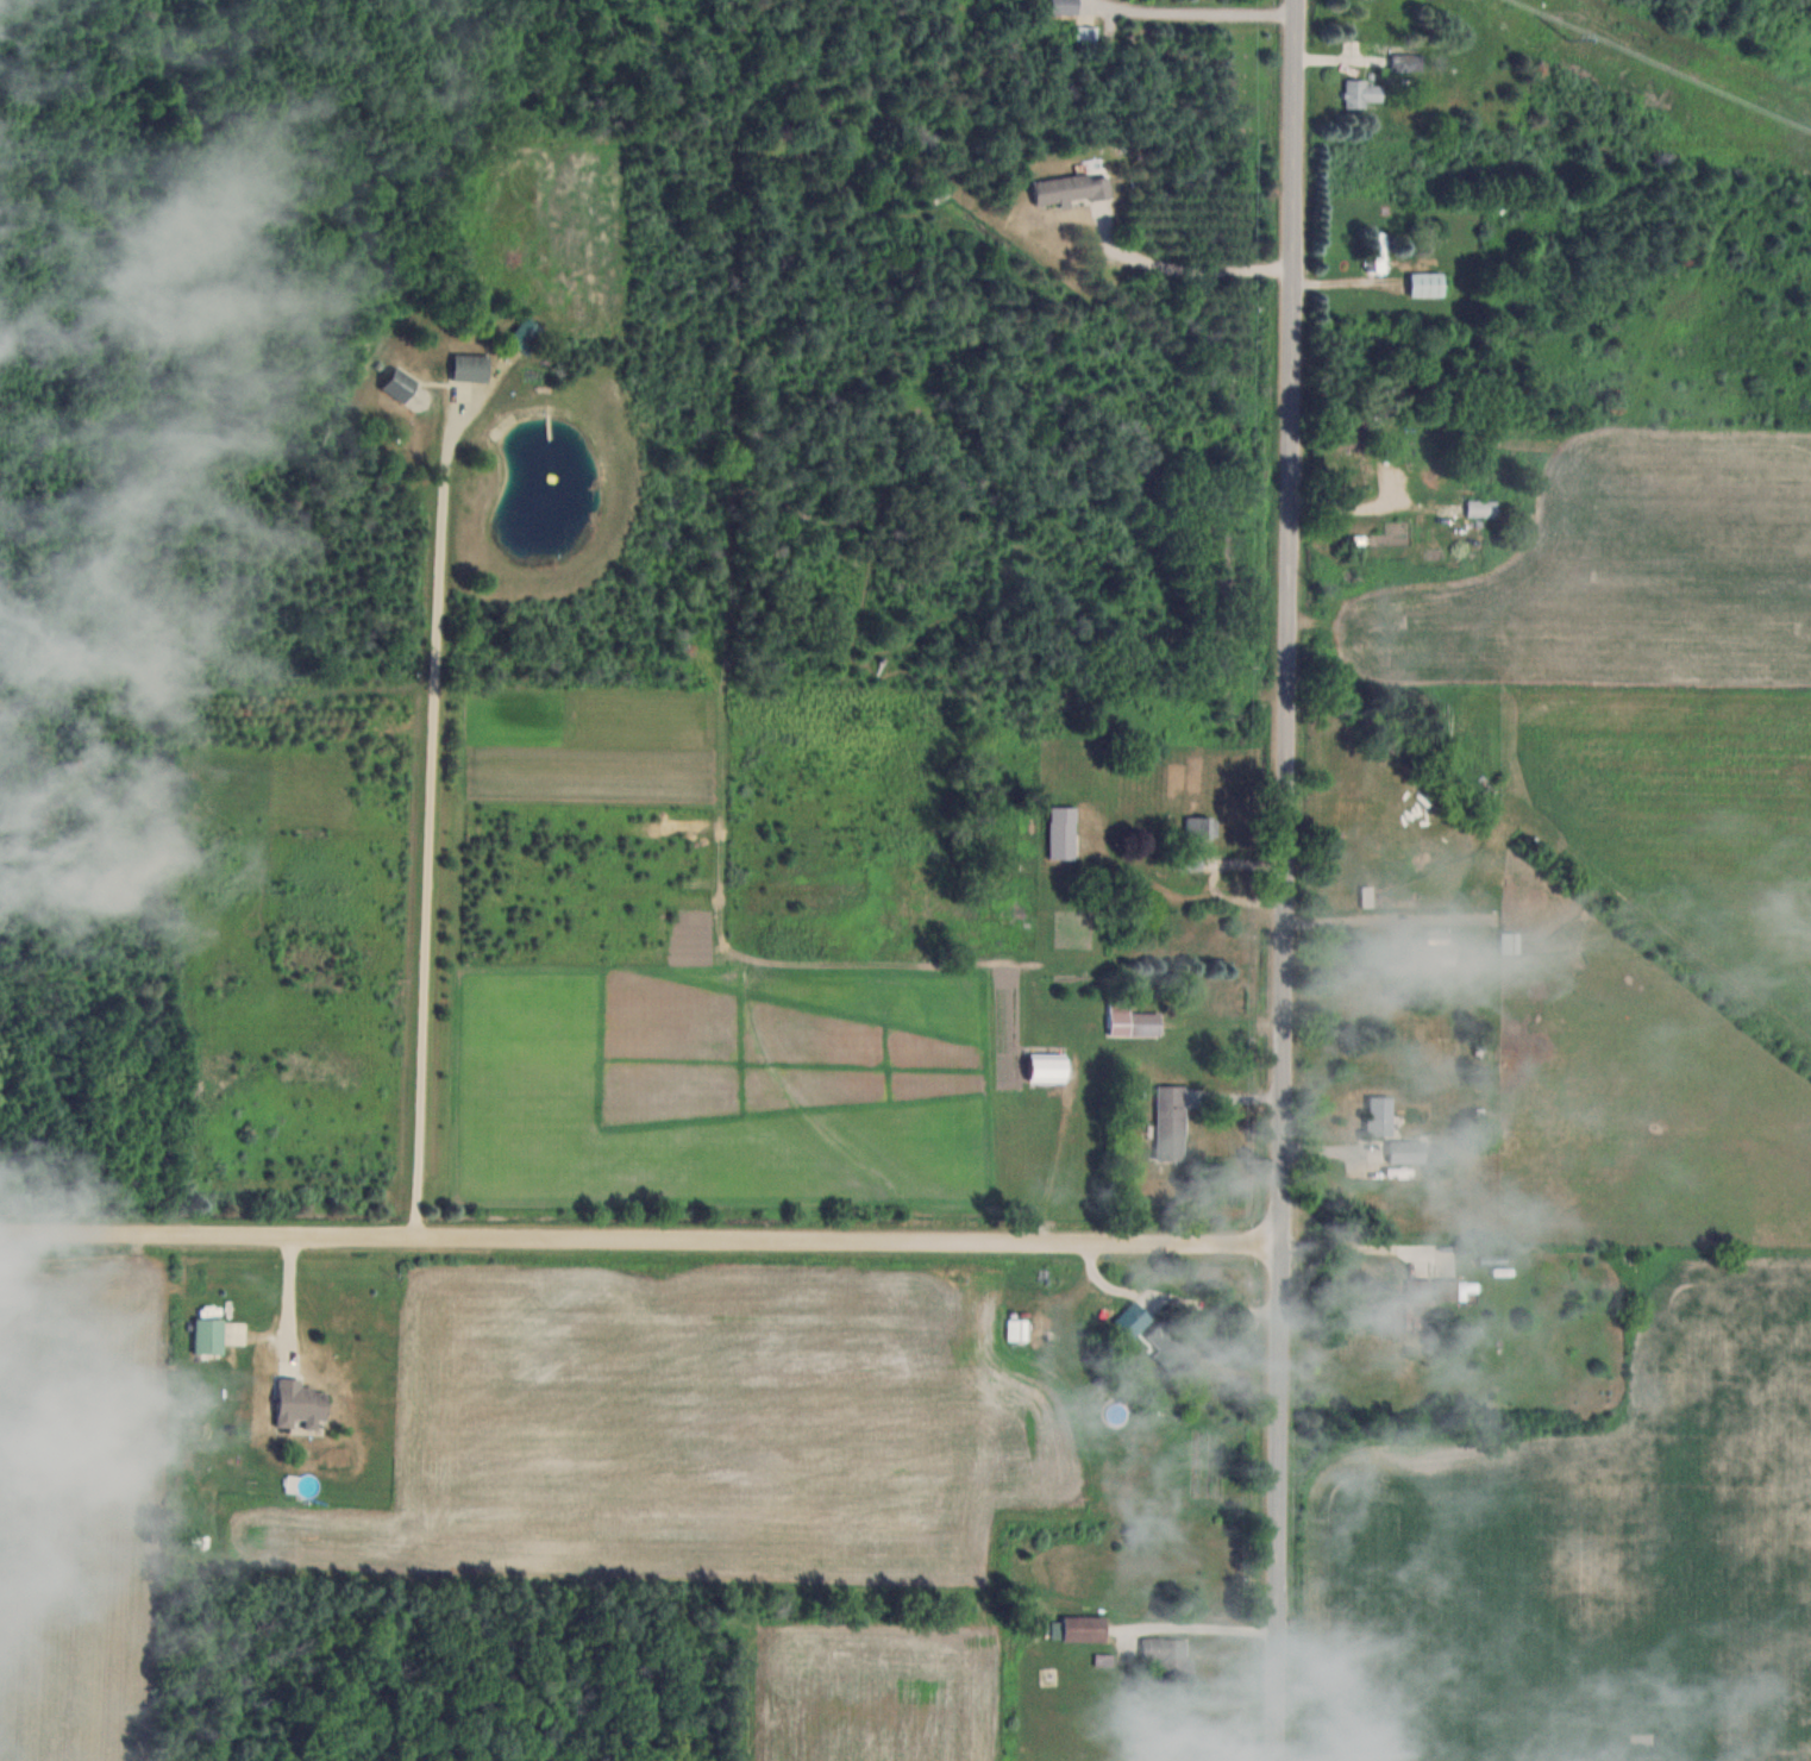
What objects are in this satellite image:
building: (1065, 7)
road: (1197, 12)
power tower: (1567, 35)
building: (1088, 37)
building: (1406, 63)
building: (1364, 94)
building: (1073, 189)
building: (1381, 252)
road: (1184, 267)
building: (1428, 284)
building: (526, 334)
building: (470, 368)
building: (400, 386)
building: (1352, 435)
building: (1484, 508)
road: (426, 819)
building: (1064, 831)
building: (1197, 838)
road: (1292, 879)
building: (1443, 946)
building: (1135, 1022)
building: (1049, 1066)
building: (1380, 1114)
building: (1172, 1121)
building: (1409, 1151)
road: (644, 1242)
building: (1420, 1289)
building: (1452, 1289)
building: (1391, 1312)
building: (1134, 1318)
building: (1019, 1329)
building: (219, 1334)
building: (1173, 1345)
building: (301, 1404)
road: (1203, 1625)
building: (1085, 1628)
building: (1171, 1657)

